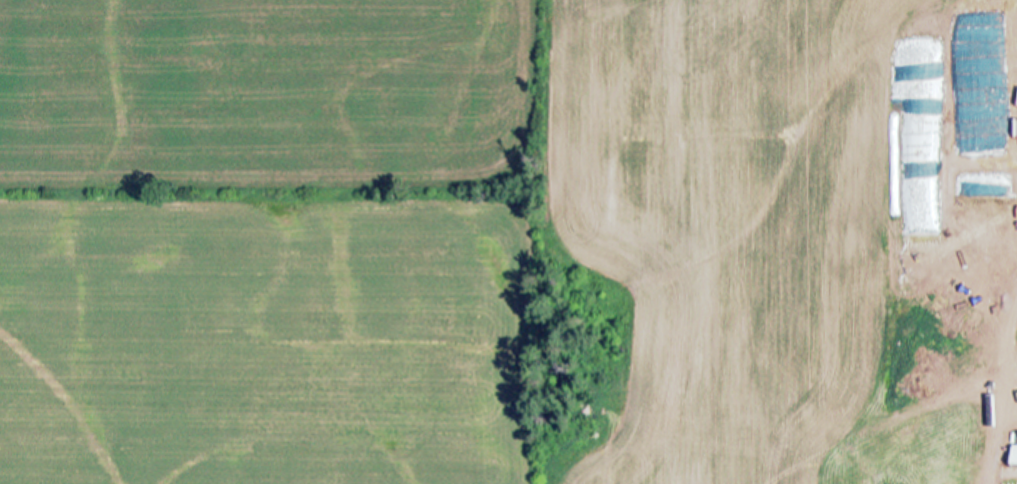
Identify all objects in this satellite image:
building: (857, 453)
building: (1016, 460)
building: (949, 482)

